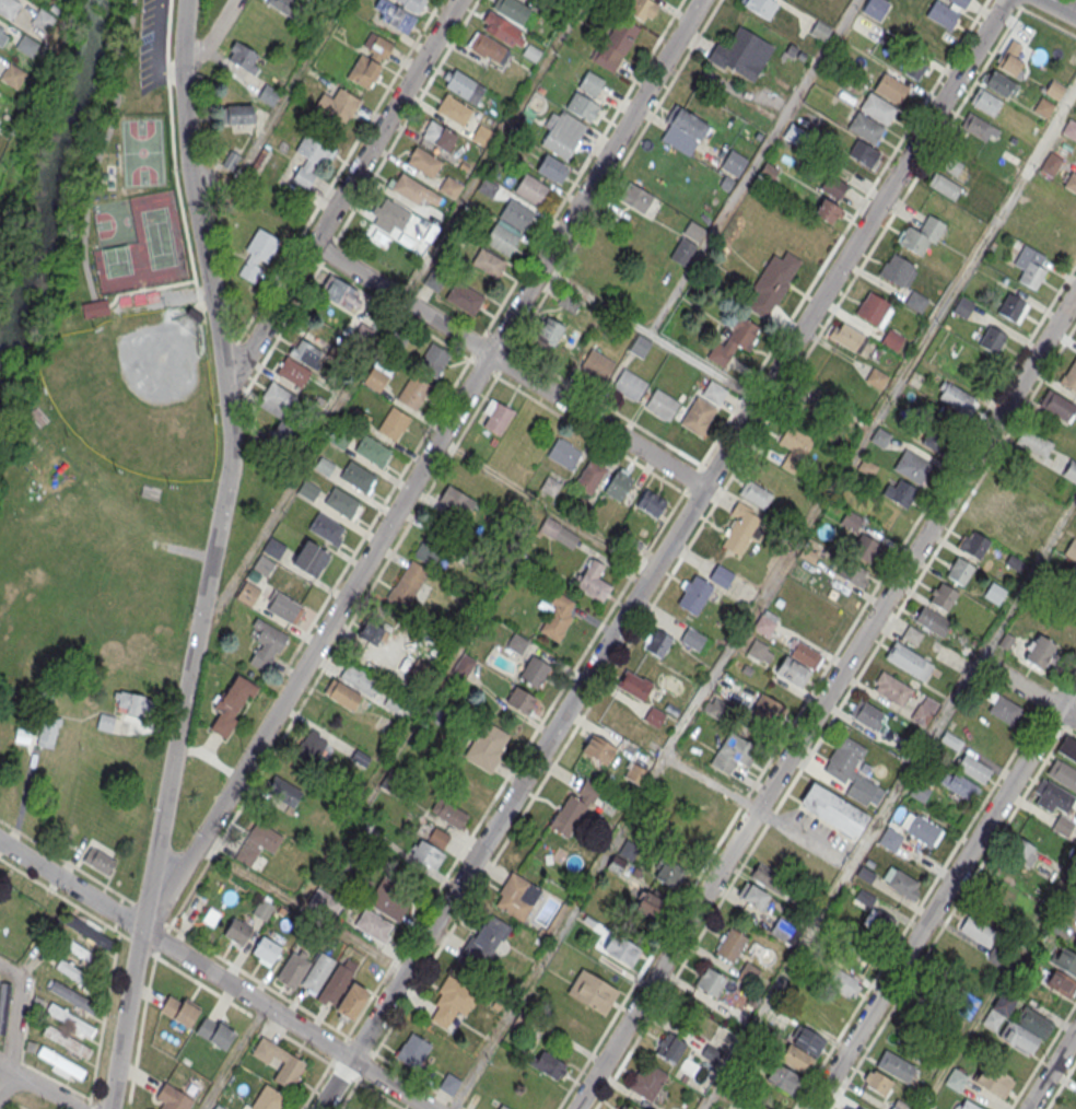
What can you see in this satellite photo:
building: (526, 0)
road: (1014, 3)
building: (412, 4)
road: (1066, 4)
building: (285, 5)
building: (760, 7)
building: (8, 8)
building: (875, 8)
building: (642, 9)
building: (512, 10)
building: (946, 12)
building: (396, 16)
building: (43, 20)
road: (1048, 21)
building: (501, 28)
building: (820, 31)
building: (2, 36)
road: (214, 36)
parking lot: (152, 44)
building: (613, 44)
building: (26, 45)
building: (488, 47)
road: (153, 49)
building: (741, 52)
building: (243, 58)
building: (370, 60)
building: (1010, 60)
building: (914, 63)
building: (13, 75)
building: (589, 83)
building: (998, 83)
building: (463, 85)
building: (890, 87)
building: (1054, 89)
building: (267, 95)
building: (985, 101)
building: (338, 106)
building: (583, 107)
building: (1043, 107)
building: (877, 108)
building: (454, 109)
road: (277, 113)
building: (236, 115)
road: (407, 118)
building: (686, 122)
building: (865, 128)
building: (980, 128)
building: (1069, 129)
building: (562, 132)
building: (482, 137)
building: (437, 138)
road: (172, 147)
road: (102, 151)
road: (491, 151)
park: (141, 153)
building: (863, 153)
building: (423, 162)
building: (309, 163)
building: (733, 163)
building: (950, 164)
road: (752, 166)
building: (551, 168)
river: (52, 179)
road: (575, 179)
building: (1071, 182)
building: (945, 185)
building: (833, 186)
road: (608, 187)
building: (529, 190)
building: (413, 192)
road: (341, 195)
building: (633, 198)
building: (1072, 209)
building: (826, 211)
building: (389, 215)
building: (627, 223)
park: (114, 225)
building: (507, 227)
building: (693, 231)
building: (922, 234)
park: (145, 249)
building: (682, 250)
building: (256, 256)
building: (487, 265)
building: (1029, 266)
building: (897, 270)
building: (772, 282)
road: (149, 292)
building: (341, 295)
building: (464, 299)
building: (915, 301)
building: (568, 303)
building: (963, 306)
building: (1014, 308)
building: (874, 310)
building: (94, 312)
building: (548, 332)
road: (650, 334)
building: (847, 337)
building: (892, 339)
building: (991, 339)
building: (733, 340)
building: (640, 346)
building: (304, 353)
building: (433, 360)
building: (596, 364)
road: (507, 366)
road: (795, 371)
building: (291, 373)
building: (1071, 377)
building: (877, 378)
building: (375, 380)
building: (629, 384)
park: (105, 385)
building: (412, 390)
park: (136, 393)
building: (713, 393)
building: (956, 399)
building: (277, 401)
building: (660, 404)
building: (1056, 406)
building: (494, 416)
building: (698, 416)
building: (393, 423)
road: (589, 433)
building: (880, 437)
building: (339, 439)
building: (935, 442)
building: (1032, 445)
building: (794, 446)
building: (373, 451)
building: (563, 453)
road: (422, 466)
building: (912, 466)
building: (866, 467)
building: (1069, 472)
building: (356, 476)
building: (589, 476)
building: (617, 486)
building: (899, 492)
building: (755, 493)
road: (386, 497)
building: (340, 502)
building: (455, 503)
building: (650, 504)
building: (993, 509)
road: (667, 517)
building: (851, 521)
building: (740, 527)
building: (326, 528)
building: (562, 537)
building: (972, 545)
building: (272, 548)
building: (431, 548)
building: (865, 548)
building: (1071, 549)
road: (663, 554)
road: (211, 556)
building: (311, 558)
building: (262, 565)
building: (959, 571)
building: (853, 574)
building: (721, 575)
building: (1069, 577)
building: (593, 581)
building: (407, 586)
building: (994, 592)
building: (247, 593)
building: (693, 594)
building: (944, 596)
road: (764, 599)
building: (283, 606)
building: (557, 617)
building: (932, 621)
building: (764, 623)
building: (371, 633)
building: (912, 634)
building: (691, 638)
building: (656, 642)
building: (1008, 642)
building: (516, 643)
building: (266, 647)
road: (332, 651)
building: (759, 651)
building: (1040, 651)
building: (804, 654)
building: (908, 659)
building: (463, 666)
building: (533, 670)
building: (792, 670)
building: (358, 679)
building: (633, 685)
road: (816, 685)
building: (892, 688)
road: (1026, 690)
building: (342, 694)
road: (824, 700)
building: (522, 701)
building: (130, 702)
building: (393, 702)
building: (231, 707)
building: (1003, 707)
building: (714, 708)
building: (924, 711)
building: (767, 713)
road: (833, 714)
building: (866, 714)
building: (655, 717)
building: (105, 722)
building: (47, 732)
building: (951, 740)
building: (312, 747)
building: (1068, 747)
building: (488, 748)
building: (598, 749)
building: (733, 752)
building: (845, 759)
building: (972, 768)
building: (635, 773)
building: (1063, 773)
building: (958, 784)
building: (862, 789)
building: (919, 792)
building: (282, 794)
building: (1052, 796)
road: (889, 804)
building: (575, 807)
building: (833, 809)
building: (449, 812)
building: (1063, 826)
building: (920, 828)
building: (889, 839)
building: (256, 843)
building: (627, 850)
building: (429, 853)
building: (1020, 853)
building: (97, 860)
building: (868, 862)
building: (865, 874)
building: (768, 877)
road: (935, 880)
building: (900, 883)
road: (944, 894)
building: (516, 896)
building: (752, 897)
building: (390, 900)
building: (647, 904)
building: (324, 906)
road: (300, 909)
road: (952, 909)
building: (874, 918)
building: (373, 924)
building: (782, 931)
building: (975, 931)
building: (89, 932)
building: (236, 933)
road: (162, 939)
building: (482, 944)
building: (730, 946)
building: (620, 949)
building: (265, 952)
building: (80, 953)
building: (1065, 960)
road: (232, 964)
road: (177, 969)
building: (292, 969)
building: (317, 972)
road: (215, 973)
building: (77, 974)
building: (710, 981)
building: (1060, 981)
road: (997, 982)
building: (844, 983)
building: (947, 985)
building: (592, 992)
building: (73, 996)
building: (351, 1000)
building: (452, 1000)
building: (1003, 1003)
building: (4, 1005)
building: (178, 1011)
road: (15, 1014)
building: (992, 1018)
building: (820, 1019)
building: (69, 1020)
building: (1033, 1022)
road: (140, 1028)
building: (214, 1034)
building: (1018, 1037)
building: (65, 1040)
building: (806, 1040)
building: (670, 1047)
building: (412, 1050)
road: (1042, 1055)
road: (234, 1057)
building: (59, 1063)
building: (548, 1064)
building: (896, 1065)
road: (1051, 1070)
building: (288, 1072)
building: (782, 1077)
building: (955, 1079)
building: (993, 1079)
road: (4, 1081)
building: (877, 1082)
building: (646, 1083)
building: (1075, 1083)
road: (1061, 1084)
building: (448, 1085)
road: (315, 1086)
road: (365, 1086)
road: (37, 1089)
building: (172, 1098)
building: (266, 1099)
building: (900, 1105)
building: (967, 1105)
building: (218, 1107)
building: (365, 1107)
building: (369, 1107)
building: (502, 1107)
building: (623, 1107)
building: (759, 1107)
building: (844, 1108)

